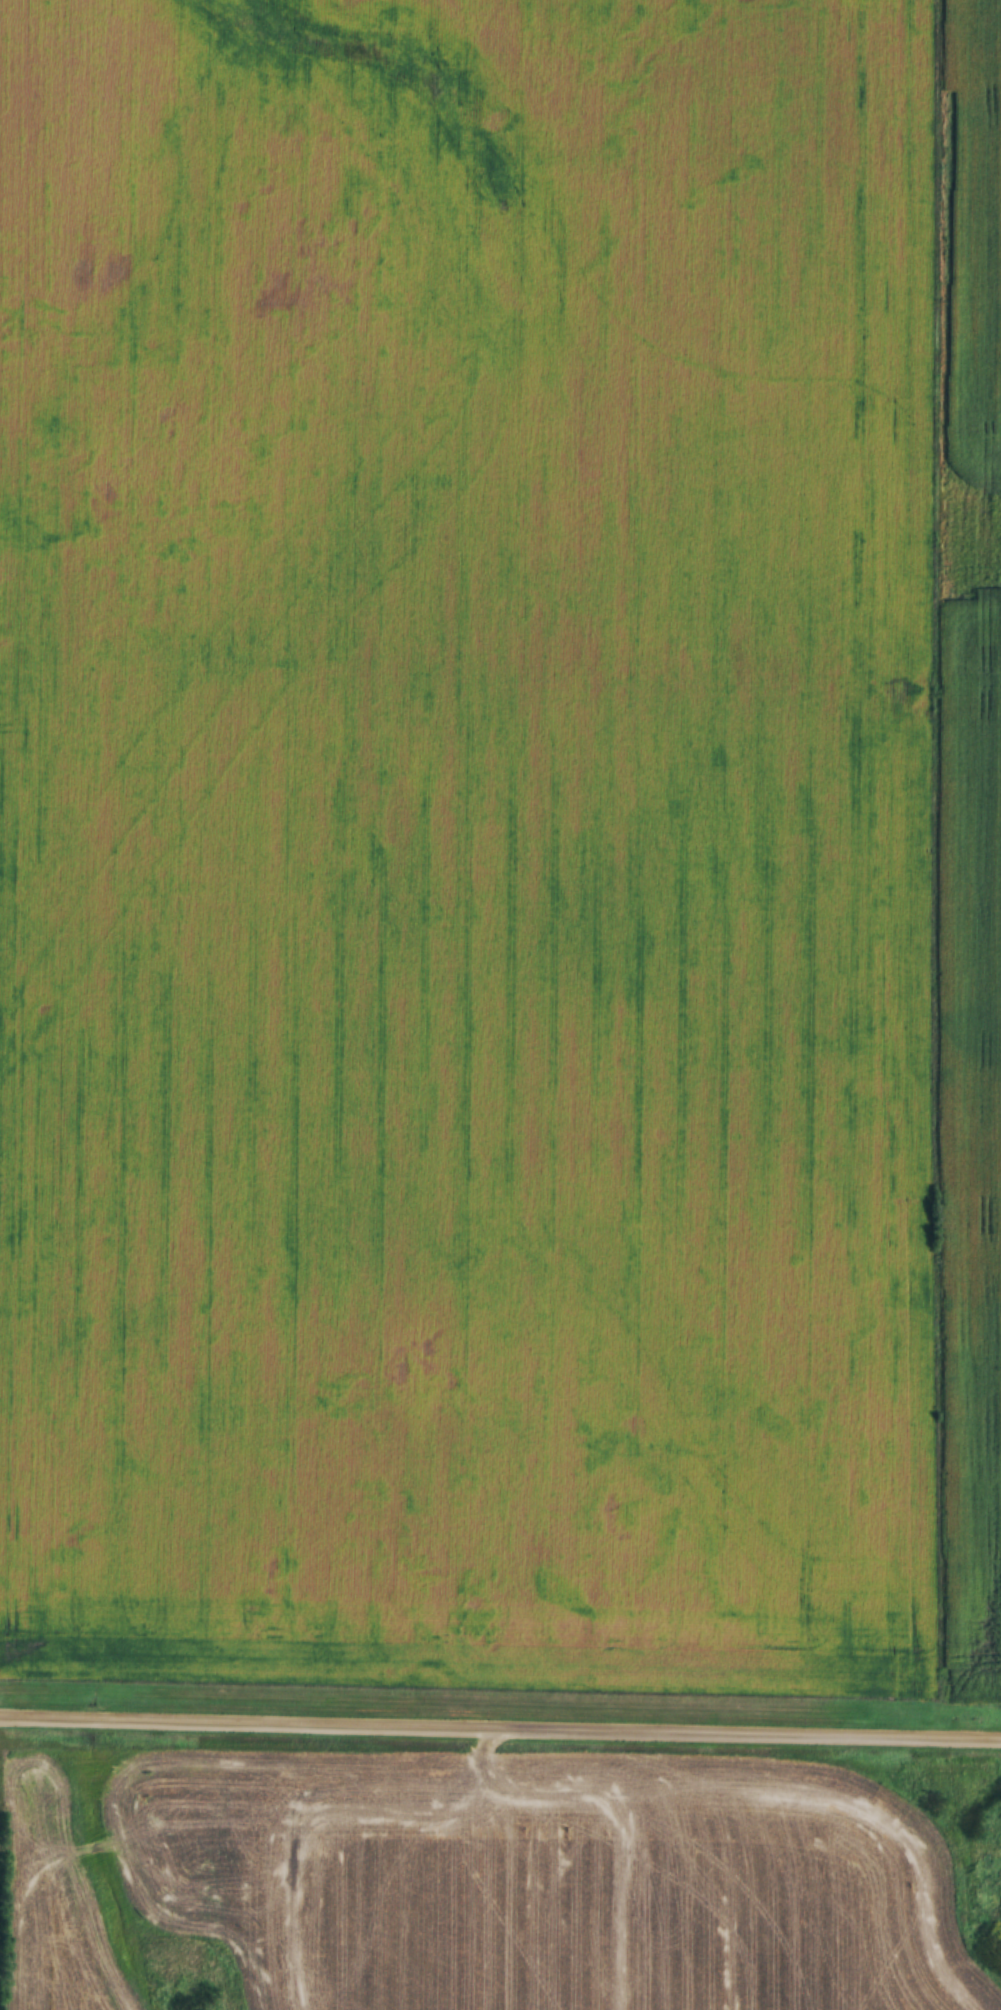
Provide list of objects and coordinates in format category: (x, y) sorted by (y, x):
road: (500, 1737)

